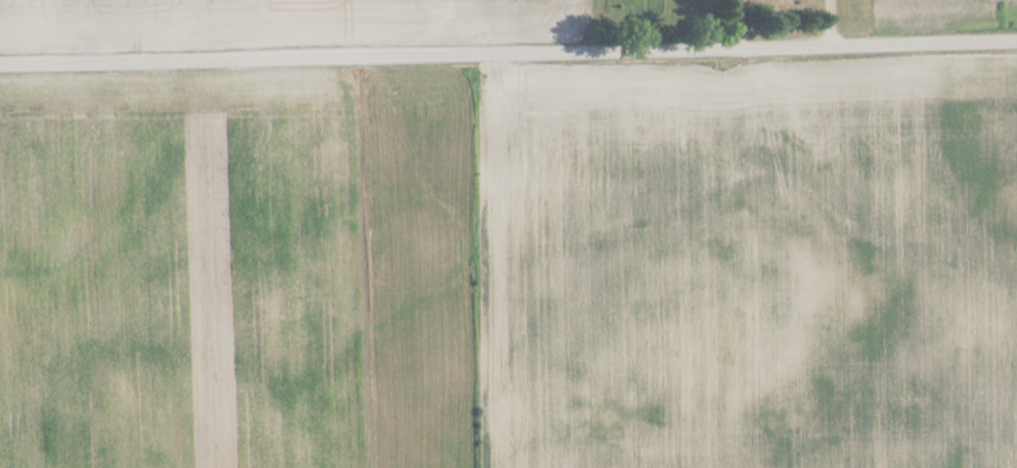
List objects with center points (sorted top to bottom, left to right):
road: (825, 22)
road: (508, 52)

